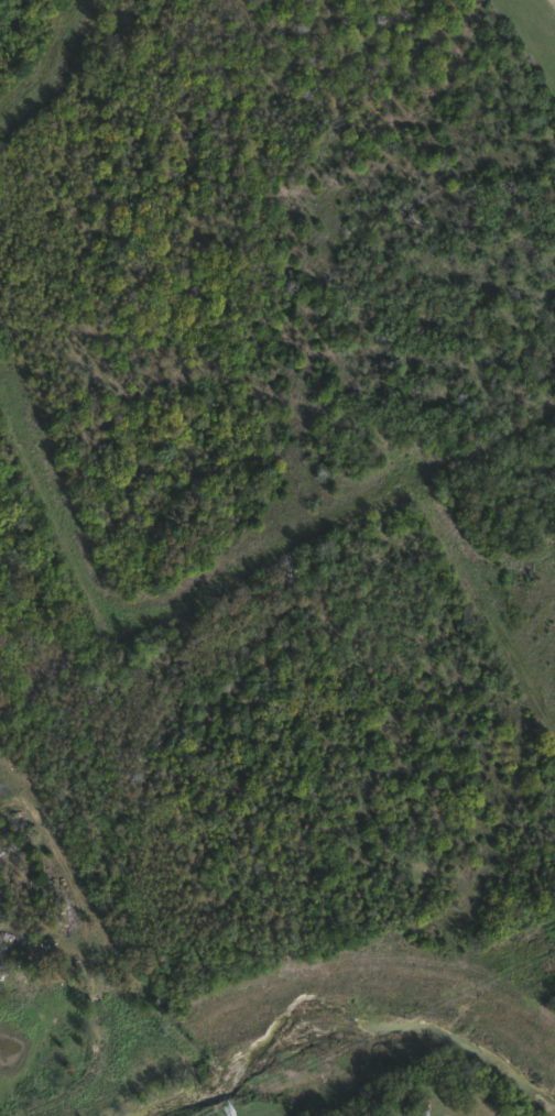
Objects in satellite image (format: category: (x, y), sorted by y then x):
building: (416, 1108)
power tower: (226, 1110)

